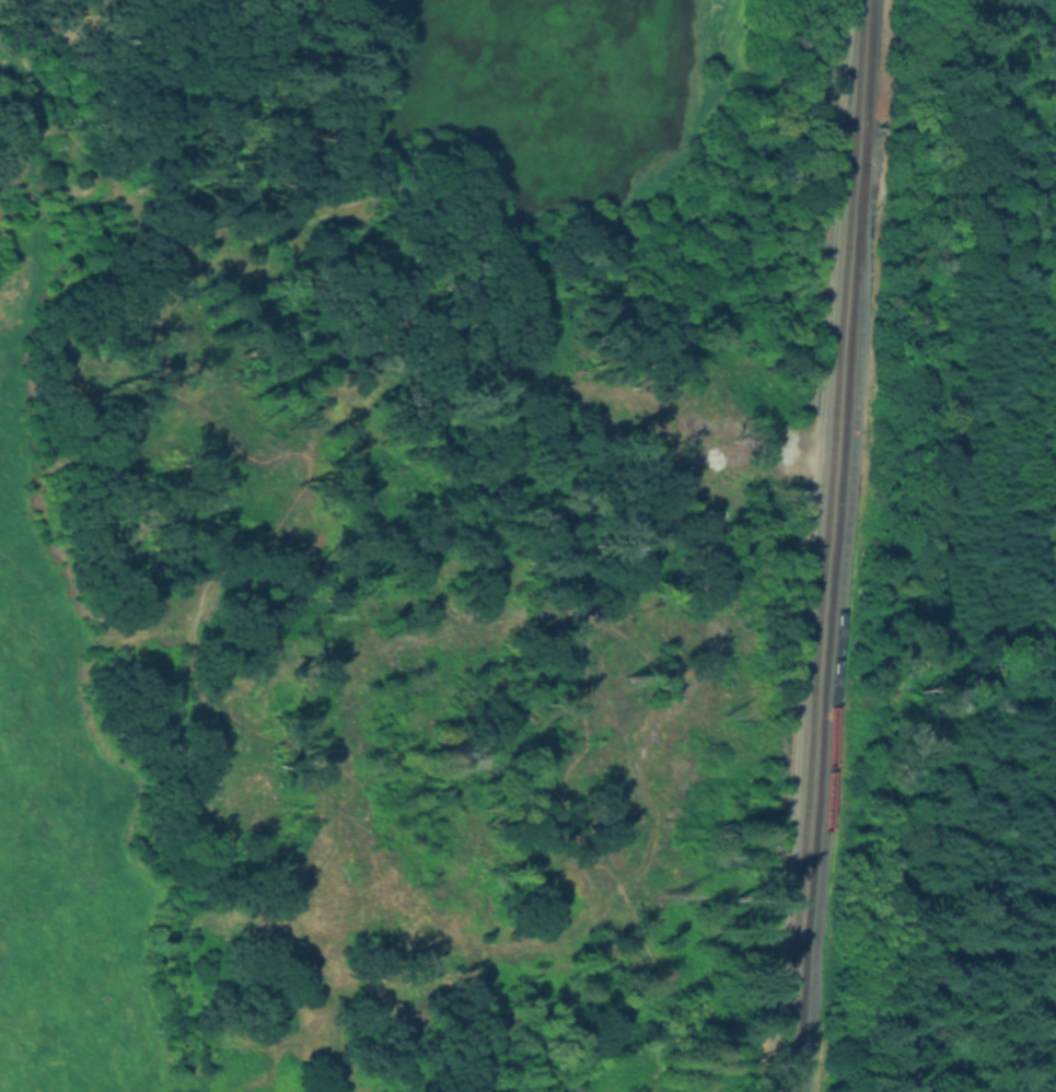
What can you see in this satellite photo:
railway: (857, 68)
road: (118, 73)
railway: (871, 81)
road: (348, 93)
road: (48, 135)
road: (94, 163)
road: (664, 473)
railway: (817, 614)
railway: (829, 627)
railway: (839, 627)
road: (194, 631)
road: (141, 635)

